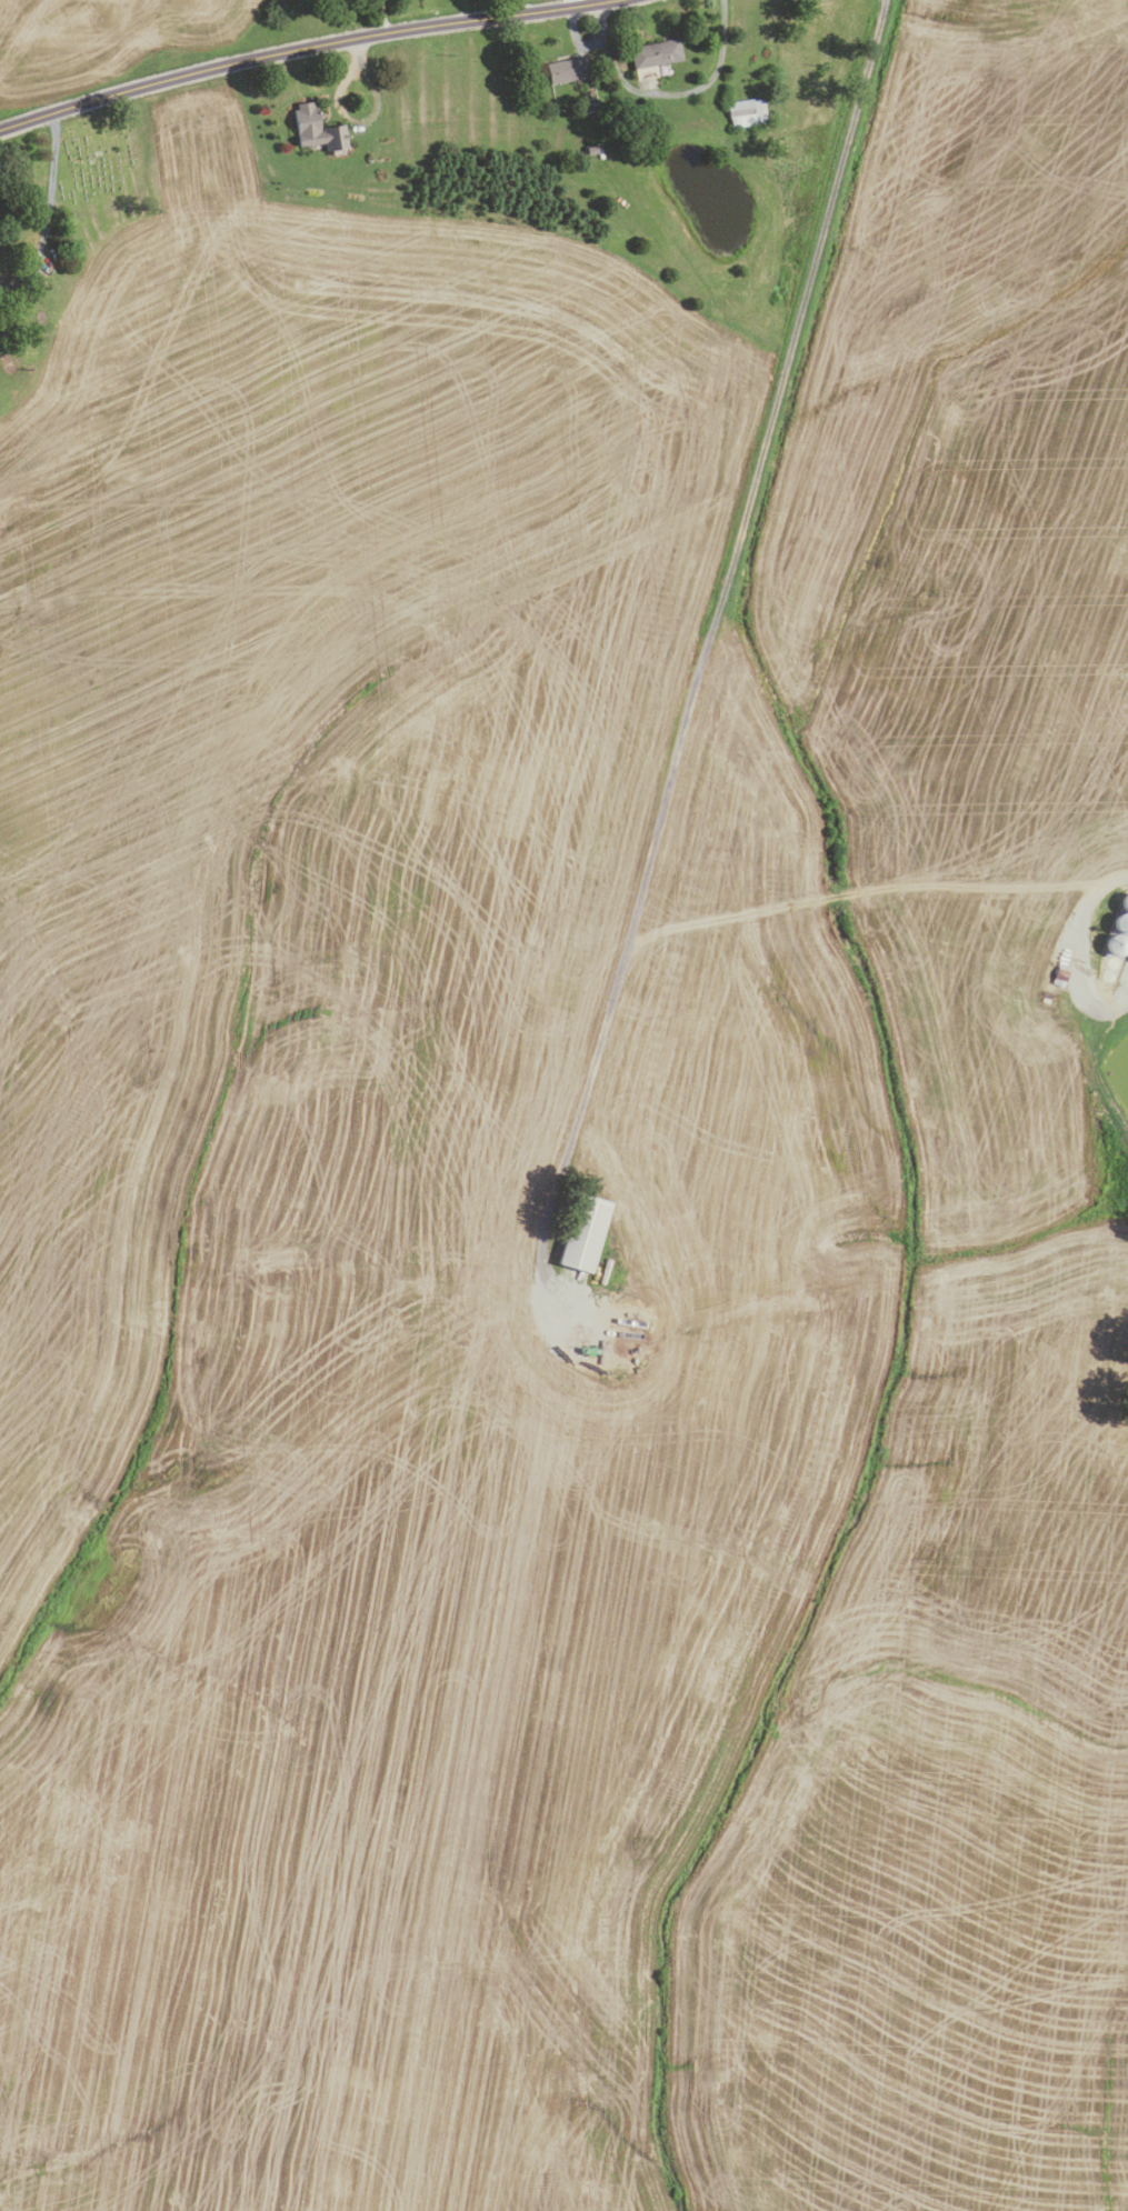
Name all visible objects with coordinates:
road: (571, 2)
road: (381, 16)
road: (600, 22)
crop: (106, 41)
road: (299, 48)
building: (656, 53)
building: (566, 69)
road: (357, 71)
road: (657, 97)
building: (589, 103)
building: (747, 113)
building: (316, 129)
building: (590, 150)
park: (99, 157)
road: (47, 212)
road: (720, 591)
building: (1125, 903)
silo: (1125, 903)
building: (1120, 924)
silo: (1120, 924)
building: (1127, 942)
building: (1115, 944)
silo: (1115, 944)
road: (1080, 951)
building: (1112, 963)
silo: (1112, 963)
building: (1059, 976)
building: (1108, 977)
silo: (1108, 977)
building: (1102, 987)
silo: (1102, 987)
building: (582, 1235)

